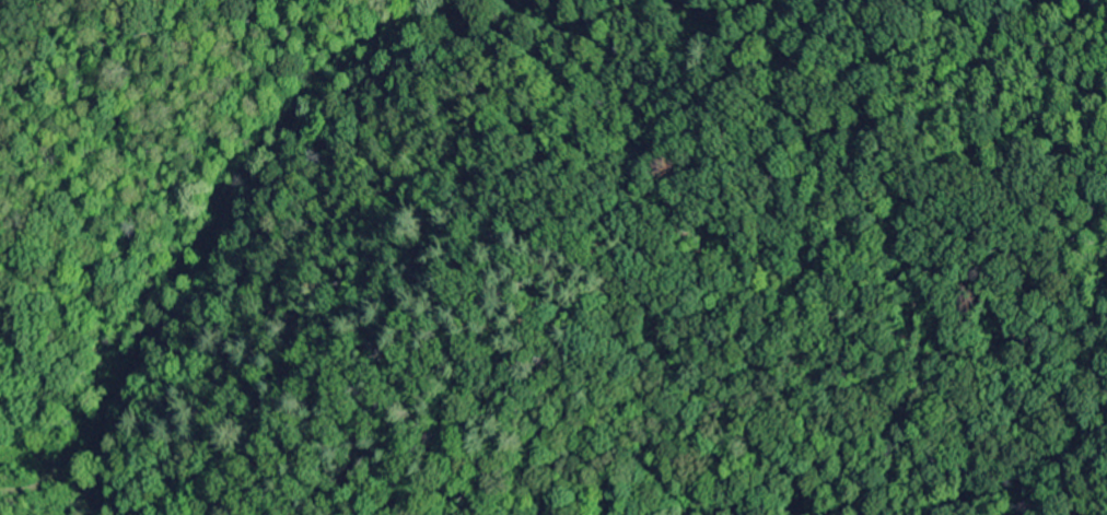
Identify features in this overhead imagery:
road: (28, 489)

